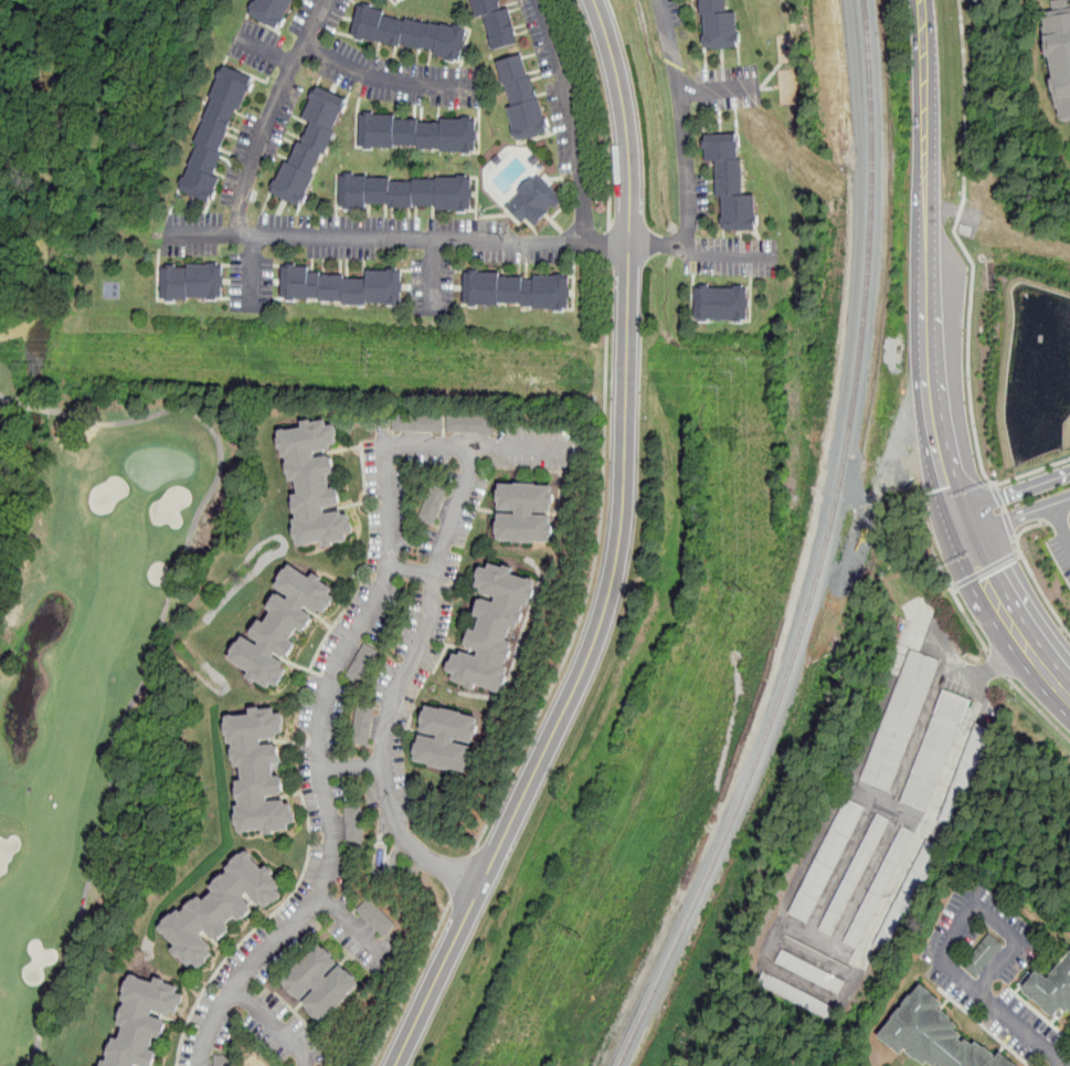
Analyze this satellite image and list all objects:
building: (396, 0)
building: (400, 0)
building: (272, 11)
building: (495, 22)
building: (721, 24)
building: (407, 33)
building: (1059, 52)
road: (388, 80)
road: (717, 88)
building: (521, 99)
road: (602, 112)
road: (571, 118)
building: (214, 133)
building: (416, 134)
road: (261, 143)
road: (684, 147)
building: (309, 148)
building: (733, 182)
building: (405, 193)
building: (532, 201)
road: (399, 238)
road: (608, 245)
road: (962, 246)
road: (723, 256)
road: (435, 276)
building: (192, 283)
building: (340, 287)
building: (515, 292)
building: (723, 305)
power tower: (370, 359)
power tower: (732, 370)
road: (926, 370)
road: (6, 399)
building: (417, 423)
building: (470, 425)
river: (18, 431)
road: (518, 448)
road: (1030, 472)
building: (312, 485)
traffic signals: (949, 488)
road: (1014, 493)
traffic signals: (1006, 496)
building: (432, 505)
road: (1004, 513)
building: (523, 514)
road: (1017, 516)
road: (1056, 516)
road: (1060, 526)
road: (1026, 527)
railway: (820, 550)
road: (617, 553)
road: (593, 569)
road: (412, 570)
road: (985, 571)
traffic signals: (984, 578)
road: (1038, 588)
power tower: (746, 589)
road: (963, 611)
building: (282, 626)
building: (492, 630)
park: (85, 646)
road: (417, 646)
road: (150, 662)
building: (362, 664)
road: (999, 666)
road: (986, 669)
road: (1038, 708)
building: (899, 720)
building: (362, 726)
building: (445, 739)
building: (934, 749)
road: (351, 766)
road: (320, 770)
building: (257, 772)
building: (963, 773)
building: (422, 801)
building: (353, 827)
building: (380, 858)
building: (827, 859)
building: (856, 874)
road: (460, 876)
building: (879, 886)
building: (905, 895)
building: (220, 909)
building: (374, 917)
road: (992, 921)
road: (350, 927)
power tower: (574, 937)
building: (984, 954)
building: (811, 971)
building: (320, 983)
road: (412, 983)
building: (1049, 988)
building: (797, 994)
road: (1005, 1016)
building: (141, 1022)
road: (274, 1023)
building: (935, 1035)
building: (222, 1060)

